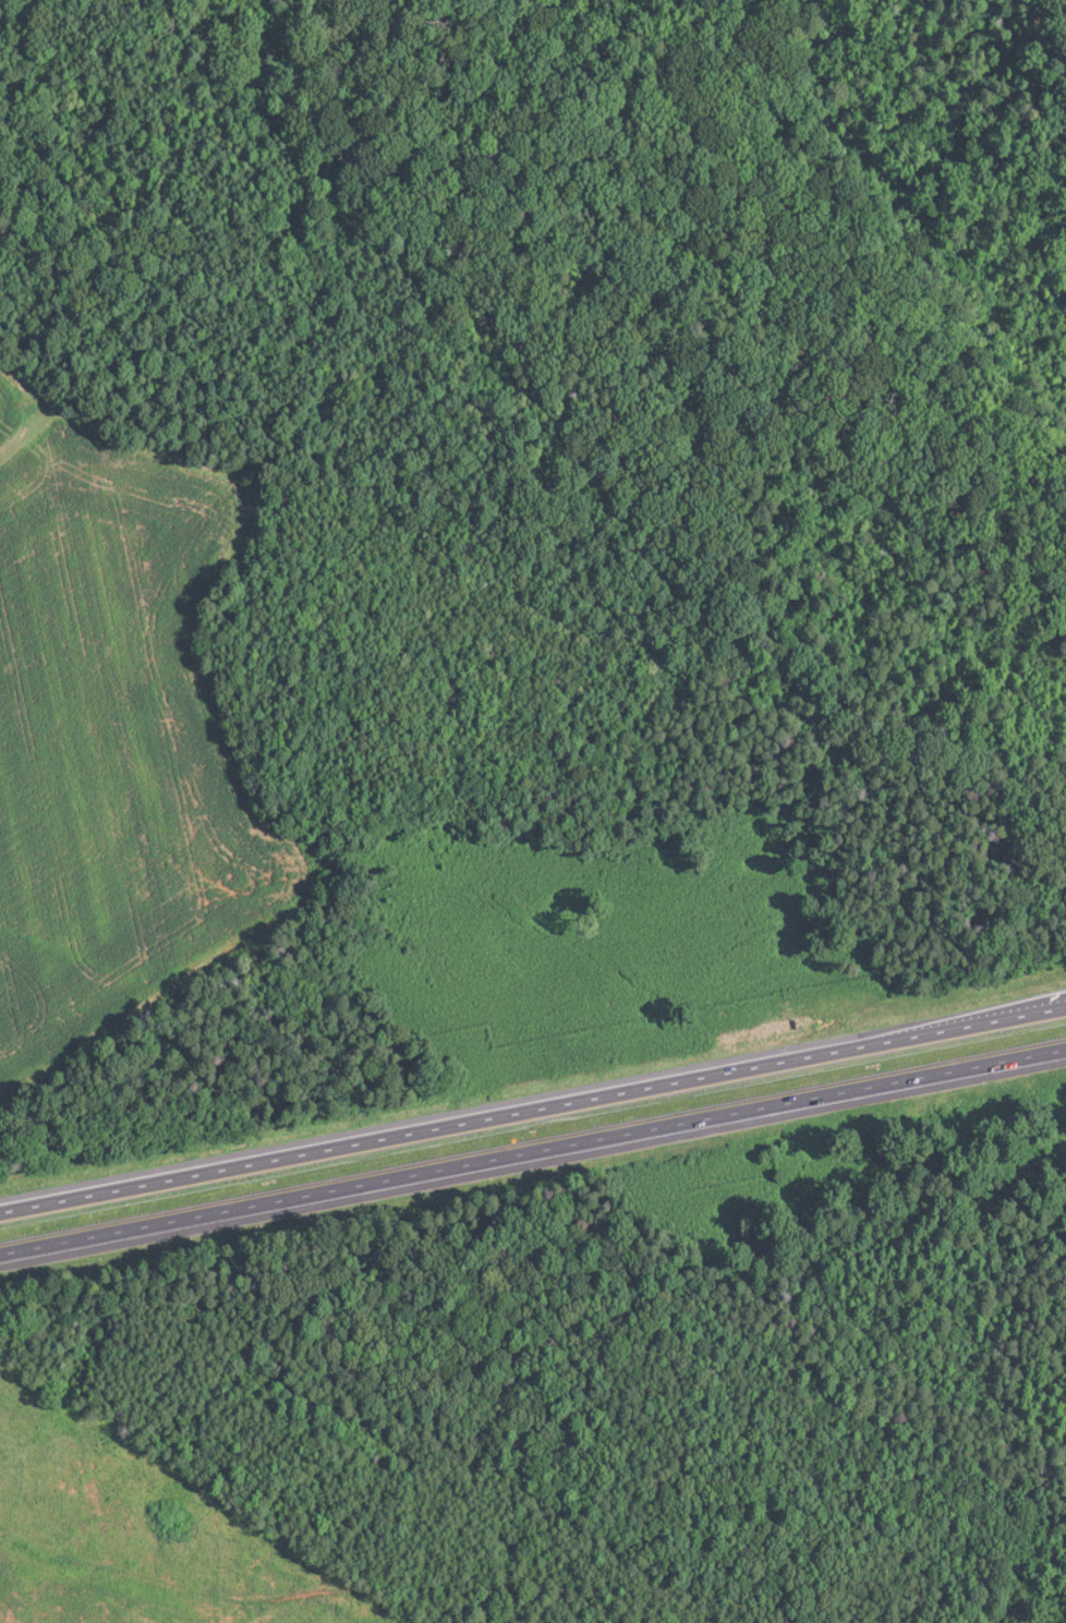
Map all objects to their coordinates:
road: (533, 1109)
road: (533, 1151)

